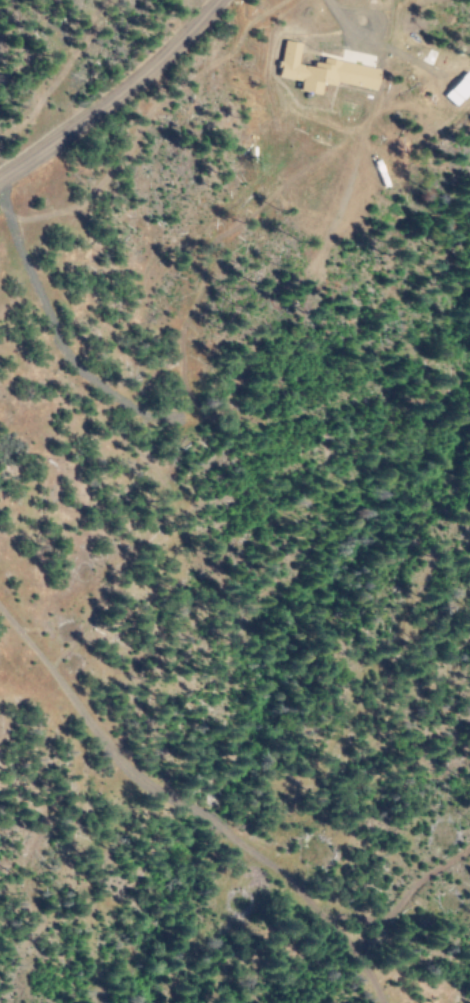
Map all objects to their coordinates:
building: (320, 71)
road: (119, 93)

